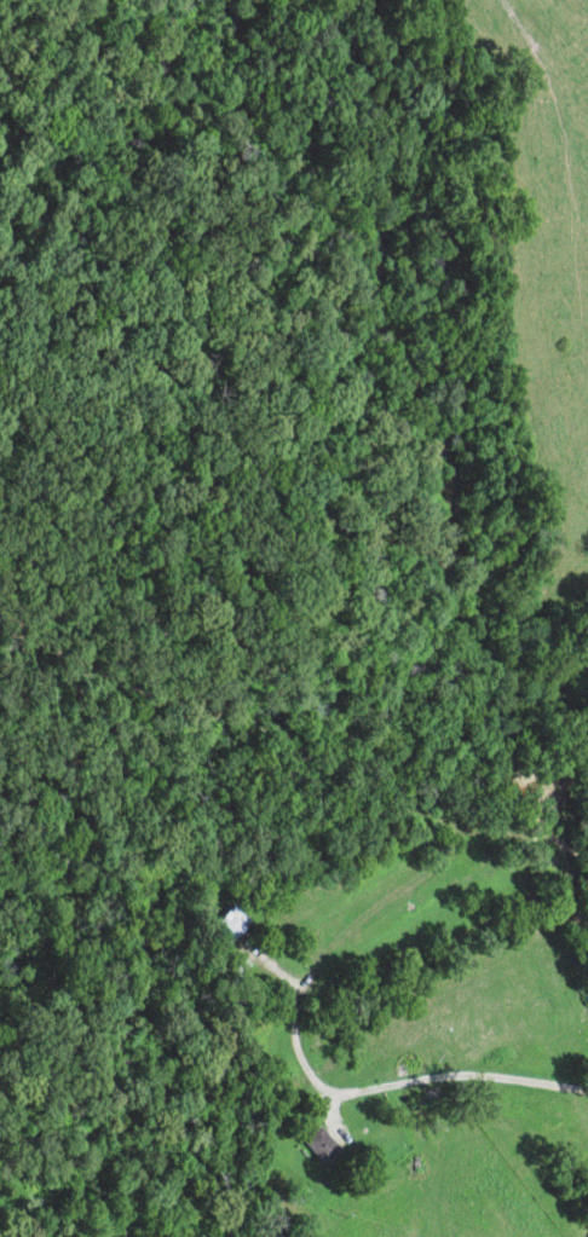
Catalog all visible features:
building: (230, 926)
building: (237, 969)
road: (477, 995)
building: (322, 1145)

